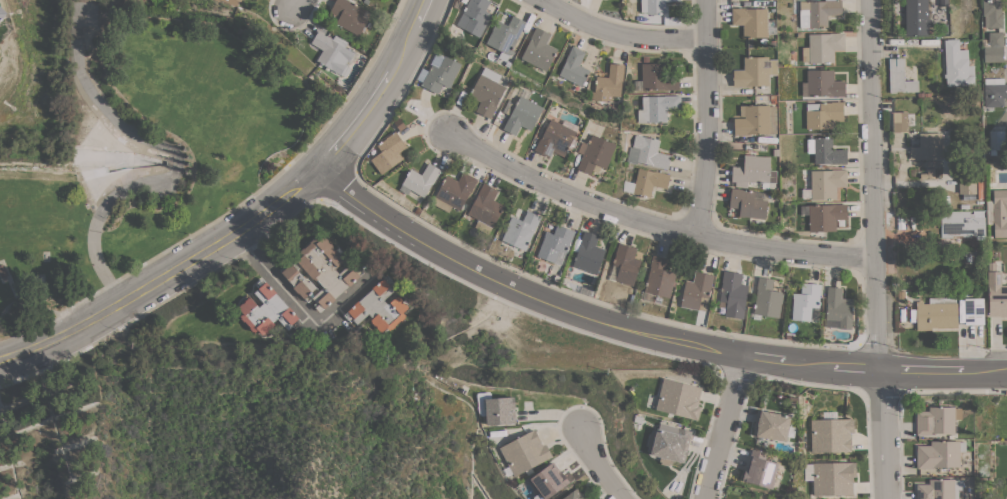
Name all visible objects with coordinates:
building: (231, 2)
road: (302, 6)
building: (653, 6)
building: (817, 12)
building: (992, 13)
building: (349, 15)
building: (476, 16)
building: (917, 20)
building: (753, 22)
building: (961, 29)
building: (505, 35)
road: (623, 35)
building: (822, 47)
building: (994, 47)
building: (538, 49)
building: (333, 52)
building: (957, 65)
building: (574, 67)
building: (754, 71)
building: (440, 74)
building: (656, 75)
building: (899, 77)
building: (608, 84)
building: (822, 84)
road: (381, 87)
building: (994, 91)
building: (487, 92)
building: (657, 108)
building: (823, 114)
building: (521, 115)
road: (705, 117)
building: (755, 120)
building: (899, 121)
building: (556, 139)
building: (996, 140)
building: (927, 146)
park: (148, 149)
building: (825, 151)
building: (650, 152)
building: (388, 153)
building: (594, 154)
building: (753, 172)
building: (421, 179)
building: (649, 181)
building: (966, 182)
building: (824, 184)
building: (453, 191)
building: (747, 204)
building: (485, 208)
building: (997, 212)
building: (825, 216)
road: (653, 223)
building: (962, 224)
building: (521, 230)
building: (555, 244)
road: (875, 249)
building: (588, 253)
building: (626, 263)
road: (168, 273)
building: (321, 273)
building: (659, 278)
building: (696, 291)
building: (732, 294)
building: (996, 295)
building: (767, 298)
building: (805, 301)
road: (299, 305)
building: (379, 307)
building: (838, 307)
building: (266, 309)
building: (973, 311)
building: (936, 313)
road: (644, 331)
building: (679, 399)
building: (496, 408)
building: (937, 420)
building: (771, 425)
road: (723, 427)
building: (831, 435)
building: (668, 443)
building: (524, 452)
building: (939, 454)
road: (600, 464)
building: (759, 470)
building: (833, 478)
building: (548, 481)
building: (939, 489)
building: (574, 495)

